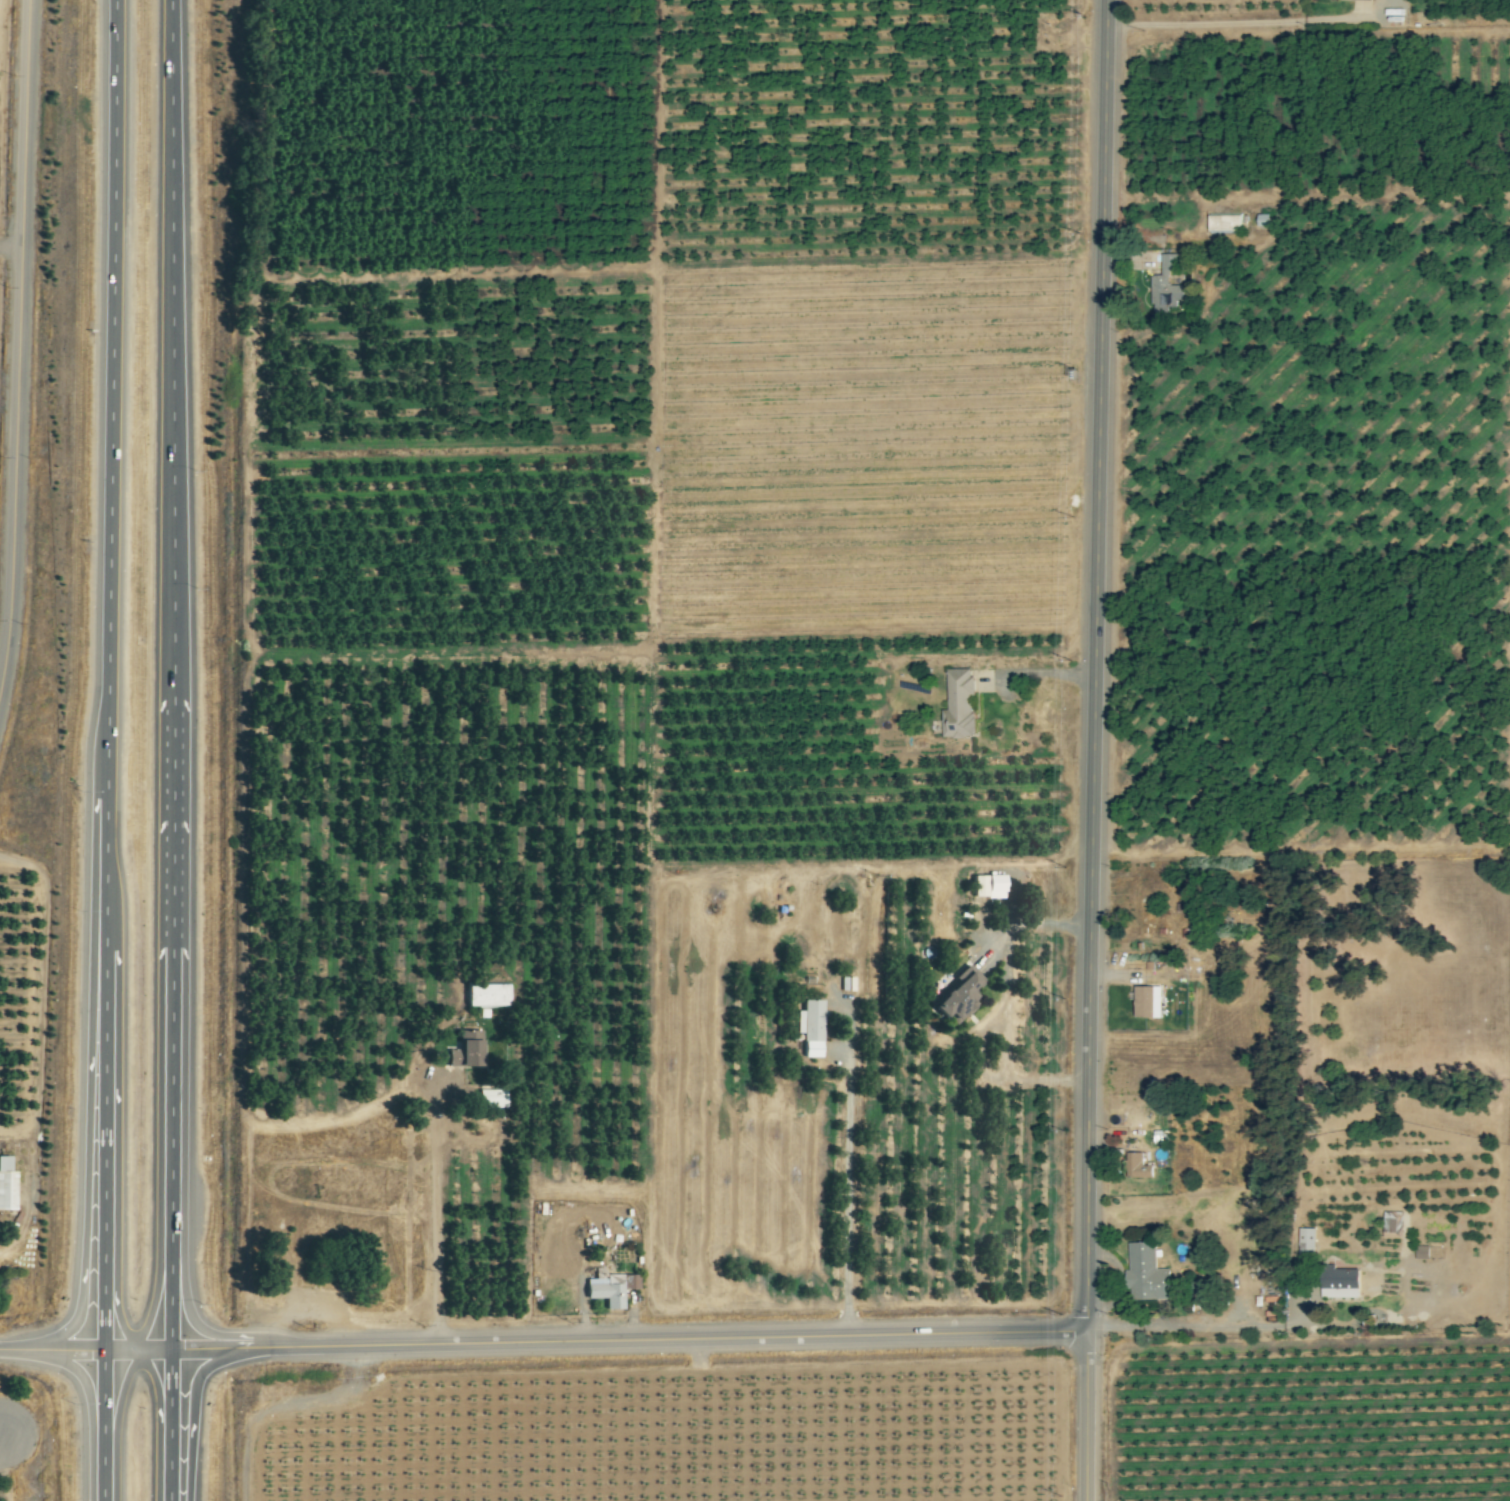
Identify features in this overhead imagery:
road: (1250, 22)
building: (1261, 219)
building: (1223, 223)
building: (1166, 283)
road: (19, 346)
road: (176, 348)
road: (115, 397)
road: (1035, 673)
building: (957, 704)
road: (1093, 750)
building: (986, 886)
road: (172, 902)
road: (104, 965)
building: (846, 983)
road: (1005, 995)
building: (485, 996)
building: (957, 996)
building: (1146, 1001)
building: (809, 1024)
building: (464, 1050)
building: (490, 1098)
road: (86, 1146)
building: (1136, 1166)
road: (849, 1180)
building: (6, 1185)
road: (439, 1218)
building: (1391, 1223)
road: (170, 1229)
building: (1305, 1241)
road: (103, 1242)
building: (1420, 1252)
building: (1145, 1274)
building: (1337, 1282)
building: (609, 1289)
road: (155, 1298)
road: (188, 1312)
road: (116, 1317)
road: (1195, 1326)
road: (594, 1341)
road: (51, 1349)
road: (156, 1386)
road: (86, 1389)
road: (116, 1405)
road: (190, 1409)
road: (103, 1425)
road: (169, 1425)

